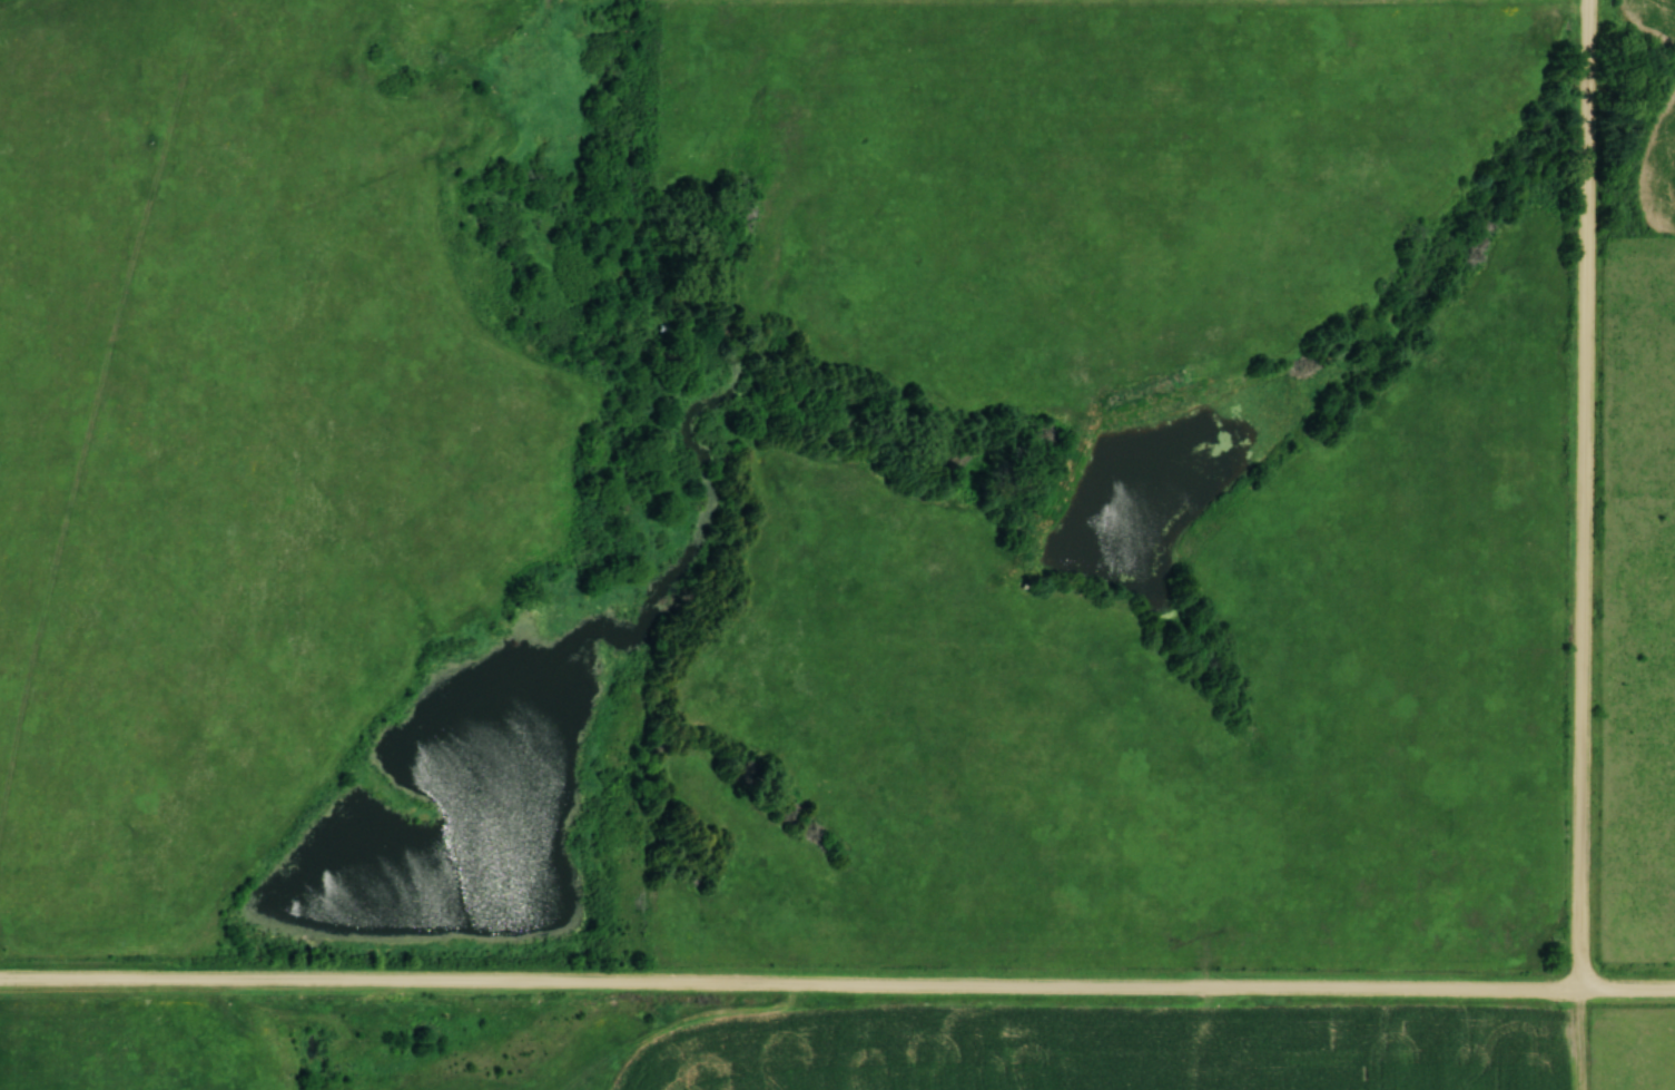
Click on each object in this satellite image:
road: (1586, 494)
road: (837, 982)

